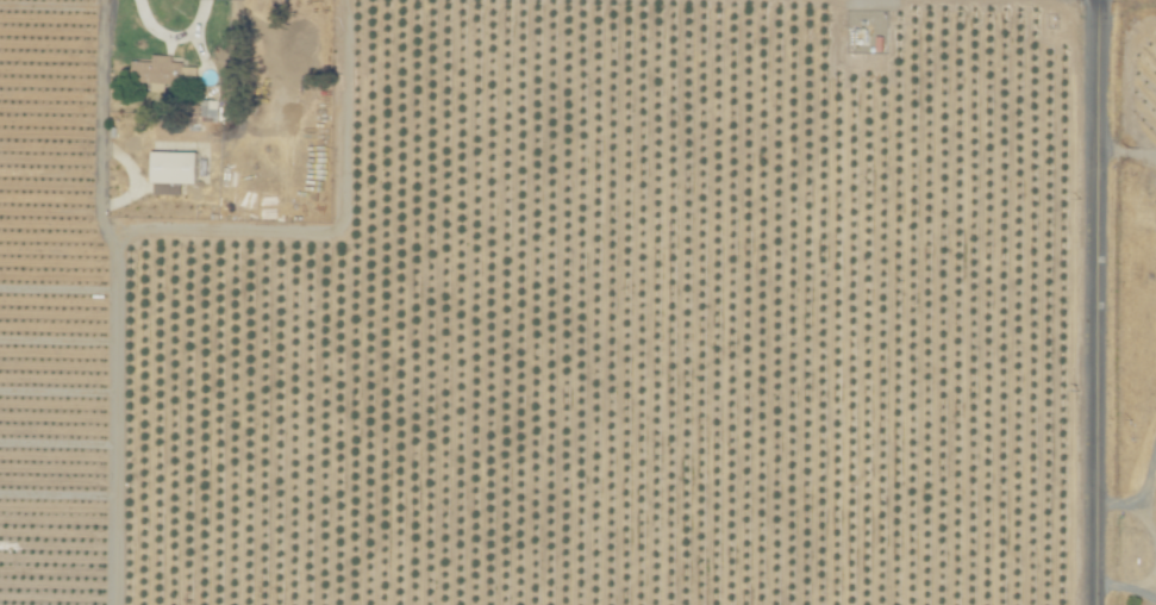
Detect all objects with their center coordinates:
building: (170, 167)
road: (224, 232)
crop: (577, 302)
road: (1092, 302)
crop: (1106, 305)
road: (1138, 501)
road: (1148, 518)
road: (1152, 586)
road: (1123, 588)

